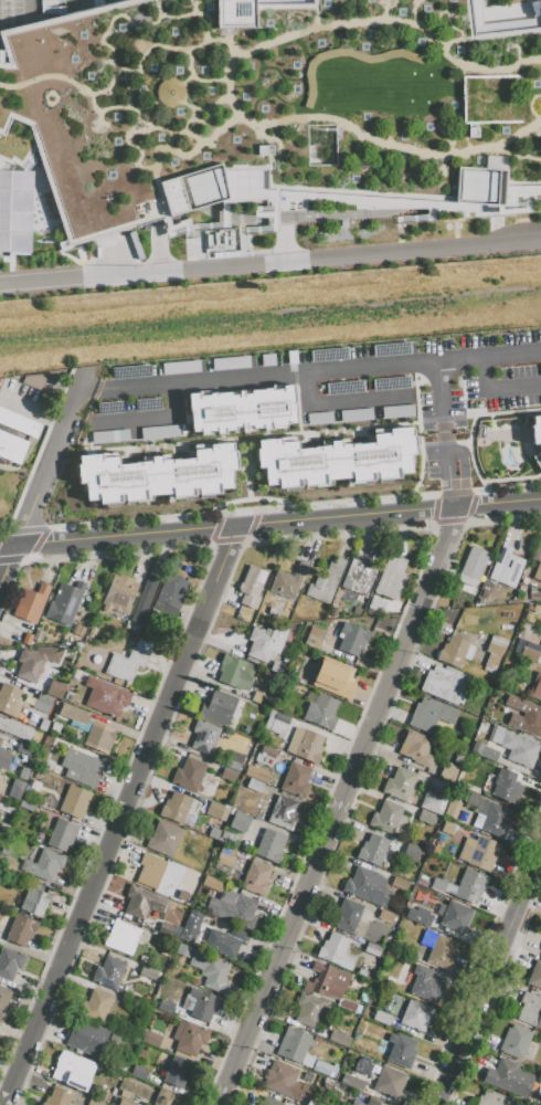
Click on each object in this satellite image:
road: (116, 0)
road: (540, 3)
road: (311, 4)
road: (78, 6)
road: (191, 7)
road: (379, 9)
road: (35, 10)
road: (409, 10)
road: (155, 11)
road: (68, 17)
road: (132, 20)
road: (311, 20)
road: (444, 22)
road: (265, 34)
road: (485, 35)
road: (142, 36)
road: (413, 36)
road: (212, 39)
road: (148, 49)
road: (512, 49)
road: (7, 55)
road: (539, 60)
road: (185, 62)
road: (46, 75)
road: (120, 75)
road: (325, 78)
road: (224, 82)
road: (177, 84)
road: (125, 91)
parking lot: (428, 97)
road: (364, 98)
road: (157, 99)
road: (195, 99)
road: (404, 99)
road: (446, 99)
road: (488, 99)
road: (528, 99)
road: (116, 101)
park: (269, 101)
road: (88, 102)
parking lot: (96, 102)
road: (526, 103)
road: (208, 104)
road: (78, 105)
road: (286, 105)
building: (282, 107)
road: (35, 110)
road: (137, 116)
parking lot: (241, 116)
road: (445, 116)
road: (242, 118)
road: (95, 120)
road: (203, 120)
park: (13, 128)
road: (178, 129)
road: (189, 136)
road: (124, 138)
road: (268, 139)
road: (219, 141)
road: (351, 146)
road: (181, 155)
road: (515, 156)
road: (14, 160)
road: (438, 164)
building: (21, 181)
road: (156, 190)
road: (344, 190)
road: (240, 192)
road: (241, 193)
road: (97, 200)
road: (471, 200)
road: (200, 202)
road: (392, 204)
road: (56, 210)
road: (333, 213)
road: (244, 218)
street lamp: (403, 232)
road: (241, 233)
road: (286, 235)
street lamp: (462, 257)
road: (270, 262)
street lamp: (403, 262)
street lamp: (353, 267)
street lamp: (14, 269)
street lamp: (315, 270)
street lamp: (268, 274)
street lamp: (222, 278)
street lamp: (189, 281)
street lamp: (144, 284)
street lamp: (94, 288)
street lamp: (56, 293)
railway: (270, 314)
railway: (270, 326)
road: (489, 352)
road: (335, 367)
parking lot: (502, 369)
building: (32, 380)
road: (497, 387)
parking lot: (303, 392)
parking lot: (24, 400)
building: (243, 403)
road: (508, 411)
road: (470, 425)
building: (14, 434)
road: (253, 435)
road: (418, 436)
building: (535, 441)
road: (36, 453)
road: (51, 457)
building: (336, 460)
parking lot: (60, 461)
building: (160, 476)
road: (507, 487)
road: (246, 499)
road: (498, 504)
road: (242, 511)
road: (455, 514)
road: (346, 515)
road: (467, 520)
road: (42, 534)
road: (346, 534)
road: (117, 536)
road: (446, 537)
road: (226, 540)
road: (225, 552)
road: (6, 560)
building: (537, 562)
building: (473, 566)
building: (507, 566)
building: (358, 577)
building: (391, 577)
building: (289, 581)
building: (325, 582)
building: (252, 587)
building: (119, 592)
building: (171, 594)
building: (144, 599)
building: (64, 602)
building: (30, 603)
building: (376, 604)
building: (352, 638)
building: (26, 639)
building: (318, 640)
building: (265, 642)
building: (453, 651)
building: (494, 652)
building: (539, 652)
building: (529, 654)
building: (35, 661)
building: (127, 663)
building: (278, 667)
building: (236, 673)
building: (333, 678)
building: (442, 684)
building: (535, 686)
building: (55, 688)
road: (152, 697)
building: (261, 697)
building: (107, 698)
building: (9, 701)
building: (218, 708)
building: (321, 712)
building: (73, 714)
building: (431, 714)
building: (524, 716)
building: (277, 726)
building: (15, 728)
building: (204, 736)
building: (99, 738)
building: (0, 740)
building: (305, 744)
building: (515, 746)
building: (416, 748)
building: (25, 750)
building: (484, 751)
building: (265, 756)
building: (4, 758)
building: (235, 758)
building: (458, 758)
building: (81, 767)
building: (23, 772)
building: (448, 772)
building: (189, 775)
building: (227, 775)
road: (360, 778)
building: (296, 780)
building: (400, 783)
building: (254, 785)
building: (441, 785)
building: (507, 786)
building: (17, 789)
building: (74, 801)
building: (433, 803)
building: (176, 807)
building: (452, 809)
building: (216, 811)
building: (283, 813)
building: (491, 815)
building: (385, 817)
building: (426, 817)
building: (240, 820)
building: (447, 828)
road: (331, 830)
building: (62, 834)
building: (163, 839)
road: (113, 843)
building: (269, 846)
building: (372, 850)
building: (411, 852)
building: (478, 852)
building: (225, 856)
building: (8, 864)
building: (43, 864)
building: (149, 872)
building: (256, 878)
building: (425, 882)
building: (399, 883)
building: (214, 884)
building: (367, 886)
building: (467, 886)
building: (182, 895)
building: (34, 902)
building: (144, 902)
building: (233, 908)
building: (346, 915)
building: (418, 916)
building: (455, 917)
building: (389, 922)
building: (189, 929)
building: (20, 930)
building: (121, 937)
building: (225, 938)
building: (182, 949)
building: (438, 949)
building: (540, 949)
building: (372, 950)
building: (165, 951)
building: (336, 951)
road: (479, 953)
building: (10, 962)
building: (134, 965)
building: (210, 969)
building: (108, 971)
building: (534, 975)
road: (489, 979)
building: (329, 980)
building: (425, 985)
road: (496, 992)
building: (4, 999)
building: (95, 1004)
building: (163, 1004)
building: (203, 1004)
building: (347, 1006)
building: (308, 1009)
building: (530, 1010)
building: (415, 1015)
building: (383, 1020)
building: (191, 1038)
building: (86, 1039)
building: (151, 1039)
building: (339, 1039)
building: (515, 1041)
building: (294, 1046)
building: (401, 1050)
building: (325, 1067)
building: (73, 1070)
building: (138, 1072)
building: (177, 1072)
building: (509, 1077)
building: (390, 1082)
building: (285, 1083)
building: (352, 1083)
building: (57, 1098)
building: (167, 1098)
building: (494, 1099)
building: (126, 1102)
building: (268, 1102)
building: (374, 1102)
building: (357, 1103)
building: (318, 1104)

